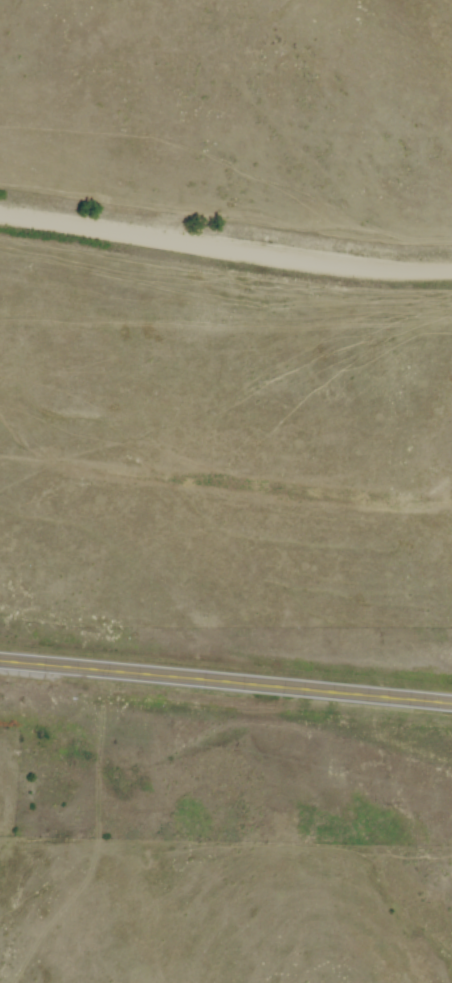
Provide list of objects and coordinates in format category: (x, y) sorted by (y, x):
road: (225, 251)
road: (226, 682)

